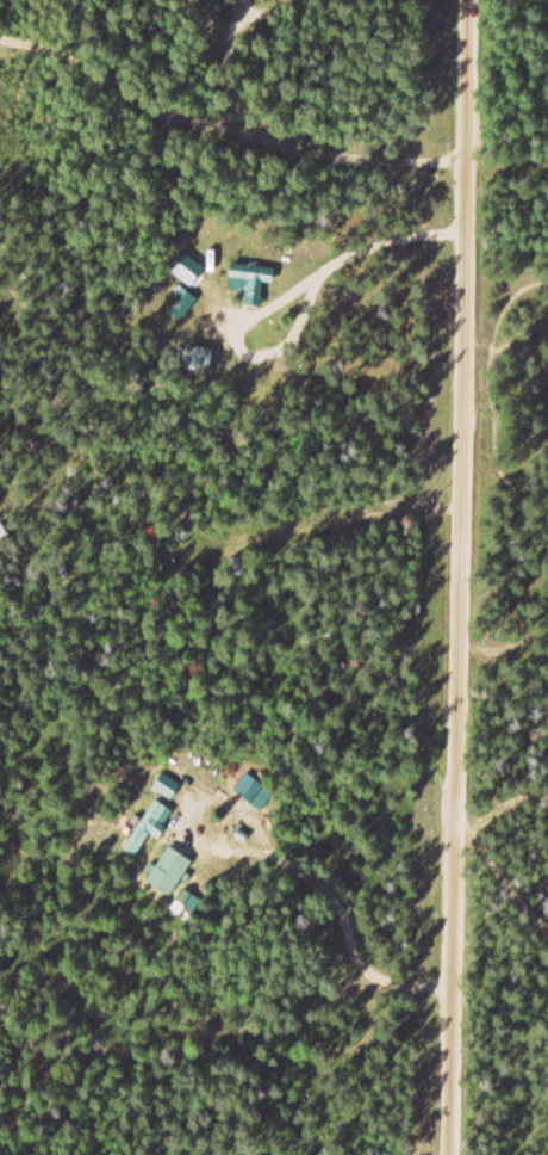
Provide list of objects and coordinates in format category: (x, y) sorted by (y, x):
building: (189, 270)
building: (251, 282)
road: (460, 576)
building: (145, 828)
building: (169, 871)
road: (502, 876)

